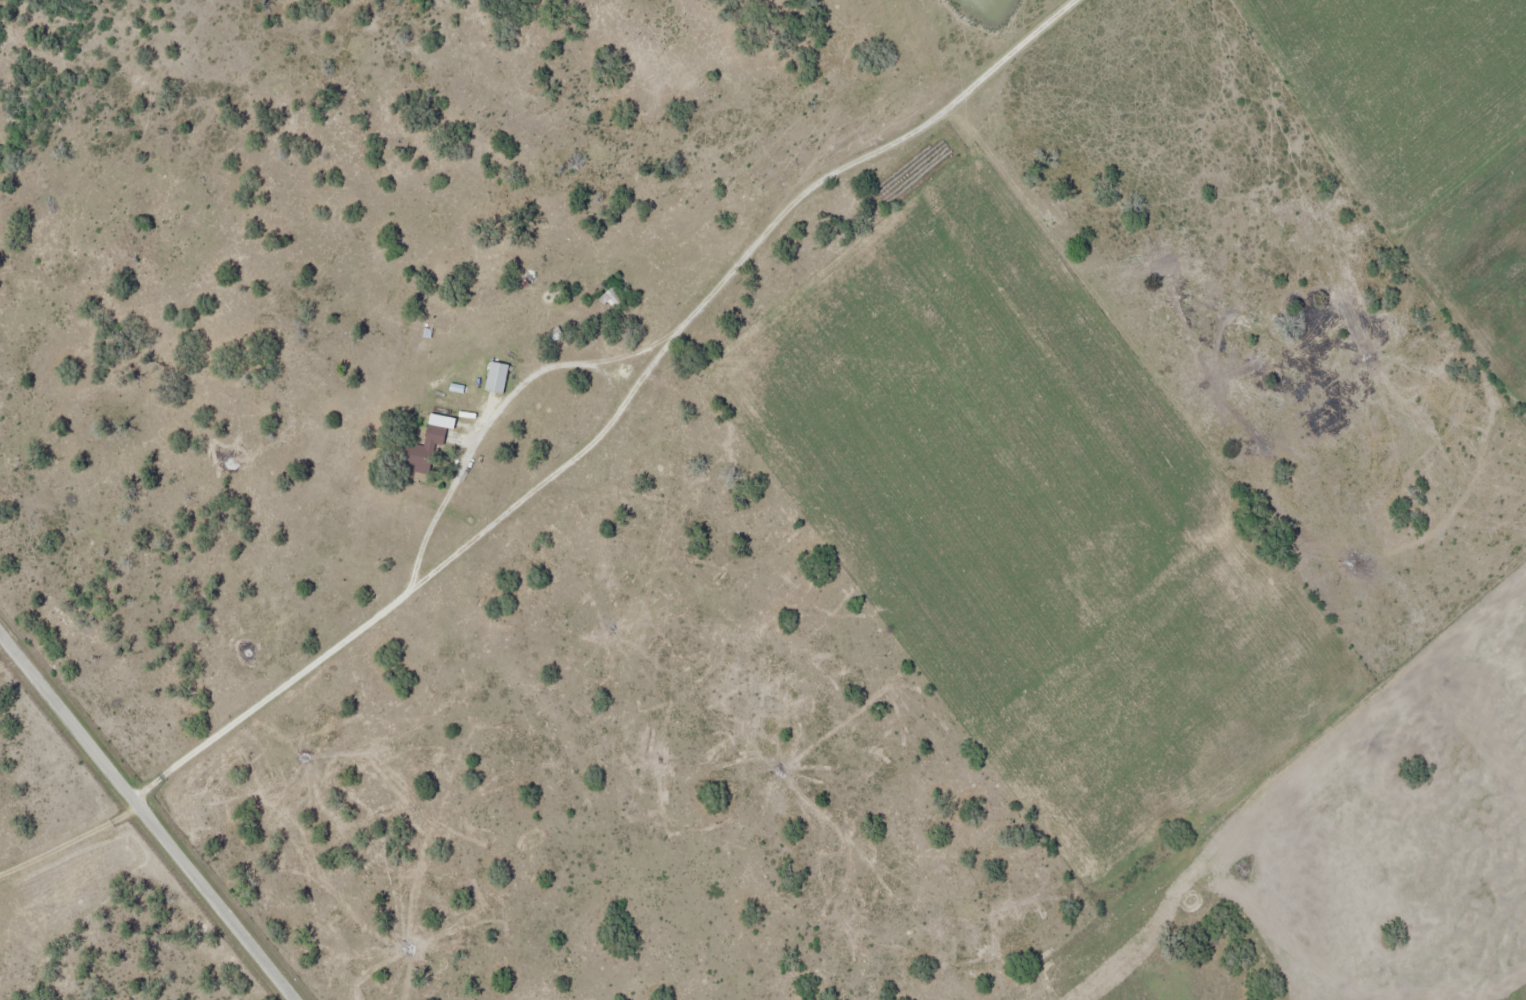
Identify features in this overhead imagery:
building: (612, 298)
building: (500, 375)
road: (617, 409)
building: (437, 434)
road: (151, 815)

